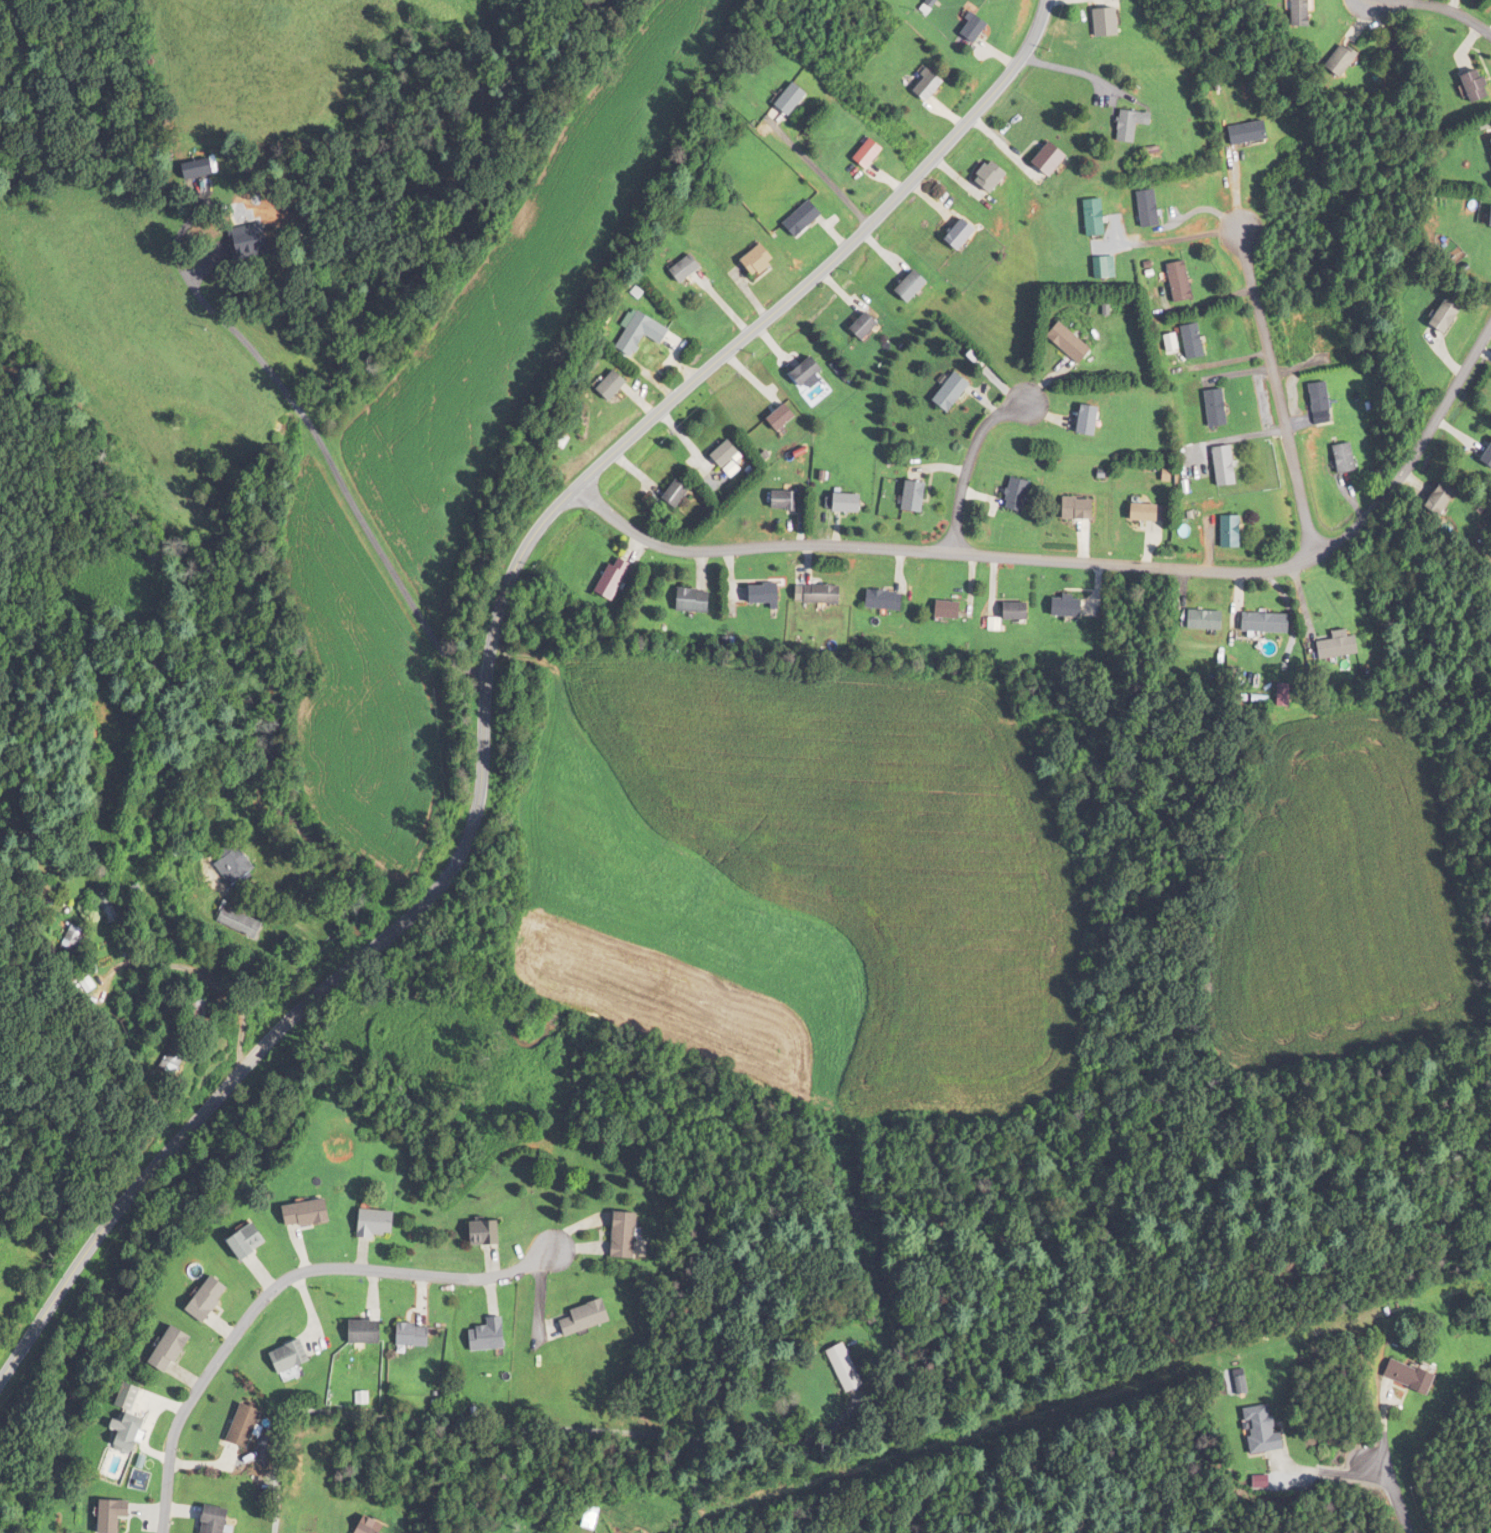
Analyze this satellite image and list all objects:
road: (1456, 9)
building: (1288, 14)
building: (1095, 24)
building: (963, 29)
building: (1331, 62)
building: (917, 87)
building: (1459, 87)
building: (778, 100)
building: (1116, 126)
building: (1238, 134)
building: (856, 155)
building: (1486, 155)
building: (1036, 161)
building: (183, 171)
building: (980, 178)
building: (1135, 211)
building: (1081, 219)
building: (1483, 220)
building: (792, 221)
building: (949, 236)
building: (234, 247)
building: (746, 262)
building: (1094, 269)
building: (676, 270)
building: (1168, 283)
building: (900, 288)
building: (1430, 315)
building: (852, 328)
building: (631, 335)
building: (1183, 342)
building: (1057, 344)
building: (797, 373)
building: (599, 388)
building: (938, 394)
road: (1281, 394)
building: (1310, 396)
building: (1207, 407)
building: (773, 418)
building: (1075, 423)
building: (1481, 453)
building: (715, 454)
building: (1335, 458)
road: (969, 462)
building: (1214, 465)
road: (337, 469)
building: (664, 493)
building: (1006, 494)
building: (901, 495)
building: (1427, 498)
building: (773, 501)
building: (830, 502)
building: (1068, 508)
building: (1133, 512)
building: (1219, 531)
road: (1083, 559)
building: (601, 578)
building: (1489, 584)
building: (749, 593)
building: (804, 594)
building: (678, 600)
building: (870, 600)
building: (1056, 606)
building: (935, 609)
building: (1004, 611)
building: (1193, 620)
building: (1252, 622)
building: (1323, 647)
road: (483, 671)
building: (235, 864)
building: (107, 907)
building: (243, 921)
building: (77, 939)
road: (200, 975)
building: (380, 1031)
building: (177, 1056)
building: (313, 1213)
building: (380, 1223)
building: (491, 1233)
building: (634, 1235)
building: (257, 1242)
road: (279, 1282)
building: (215, 1298)
building: (590, 1317)
building: (370, 1332)
building: (418, 1335)
building: (492, 1335)
building: (177, 1349)
building: (293, 1357)
building: (833, 1367)
building: (1399, 1377)
building: (136, 1398)
building: (248, 1426)
building: (1248, 1430)
building: (137, 1432)
road: (1387, 1485)
building: (122, 1515)
building: (594, 1516)
building: (220, 1520)
building: (375, 1525)

